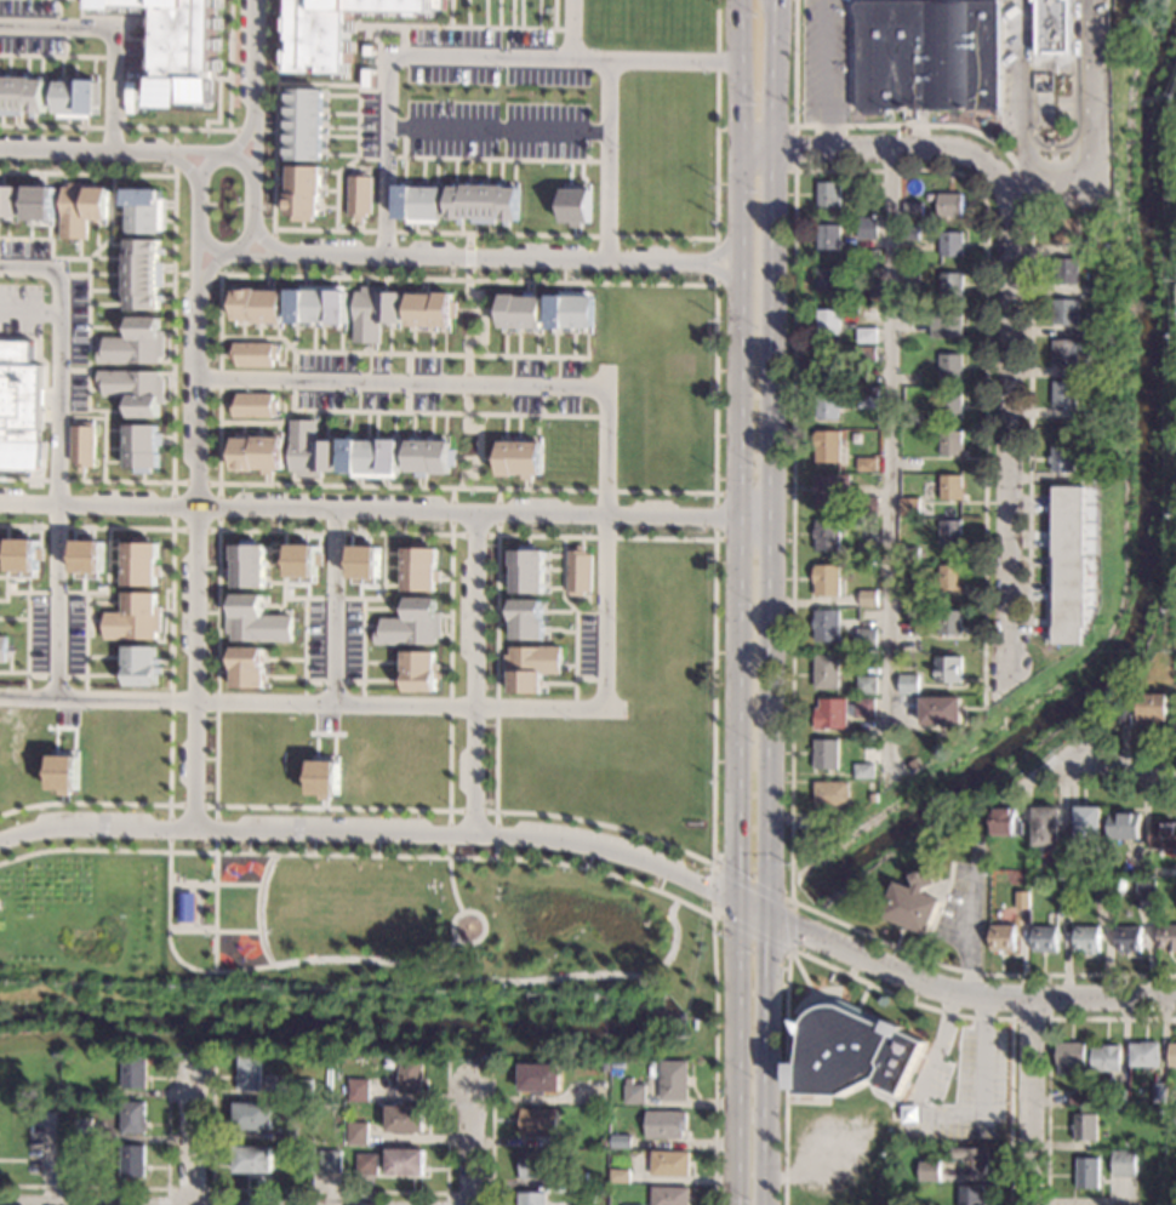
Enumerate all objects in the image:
road: (451, 13)
building: (1055, 23)
parking lot: (30, 27)
building: (333, 29)
road: (571, 29)
road: (113, 34)
road: (142, 41)
road: (376, 42)
building: (181, 48)
building: (925, 53)
road: (57, 55)
road: (252, 55)
road: (467, 57)
road: (824, 73)
road: (318, 84)
building: (22, 95)
parking lot: (495, 95)
building: (132, 97)
building: (78, 98)
building: (303, 122)
road: (777, 125)
road: (178, 129)
road: (497, 129)
road: (250, 130)
road: (244, 135)
road: (255, 141)
road: (860, 144)
road: (188, 150)
road: (80, 152)
road: (173, 152)
road: (219, 155)
road: (481, 159)
road: (609, 160)
road: (182, 164)
road: (1055, 183)
building: (869, 188)
building: (303, 192)
building: (829, 194)
building: (360, 196)
building: (8, 200)
building: (419, 201)
building: (484, 201)
building: (39, 202)
building: (576, 205)
building: (950, 205)
building: (82, 207)
building: (913, 209)
building: (145, 210)
road: (1032, 216)
building: (868, 228)
building: (1066, 230)
road: (497, 233)
building: (909, 233)
building: (829, 236)
road: (51, 240)
building: (952, 244)
road: (269, 246)
road: (723, 250)
building: (1100, 250)
road: (270, 252)
building: (874, 253)
road: (261, 256)
road: (467, 256)
road: (498, 257)
road: (196, 262)
road: (719, 262)
road: (205, 269)
road: (721, 269)
building: (870, 272)
building: (909, 272)
building: (1067, 272)
building: (143, 273)
road: (195, 273)
building: (828, 279)
road: (714, 285)
building: (952, 285)
building: (1095, 290)
building: (257, 305)
building: (320, 307)
building: (430, 308)
road: (30, 310)
building: (520, 310)
building: (375, 312)
building: (572, 312)
building: (1066, 312)
building: (912, 315)
building: (828, 321)
building: (947, 325)
road: (480, 326)
road: (171, 327)
road: (87, 330)
building: (1103, 332)
building: (866, 335)
parking lot: (19, 342)
building: (135, 342)
road: (399, 352)
building: (1064, 352)
building: (866, 353)
building: (253, 354)
building: (828, 364)
building: (952, 366)
building: (1092, 371)
road: (291, 379)
road: (793, 381)
road: (400, 383)
parking lot: (438, 383)
road: (466, 383)
building: (135, 389)
building: (1064, 393)
building: (867, 396)
building: (252, 404)
building: (19, 406)
building: (827, 406)
building: (950, 406)
road: (409, 412)
building: (1094, 412)
building: (910, 419)
road: (1007, 421)
road: (478, 441)
building: (950, 442)
building: (84, 444)
building: (827, 445)
building: (142, 446)
building: (312, 449)
building: (257, 453)
road: (58, 456)
building: (371, 456)
building: (429, 456)
building: (520, 458)
building: (1063, 458)
building: (867, 464)
road: (891, 464)
building: (919, 469)
building: (1091, 475)
building: (950, 487)
building: (829, 489)
building: (867, 506)
building: (910, 508)
road: (383, 512)
road: (714, 516)
building: (915, 520)
river: (1137, 525)
road: (217, 529)
building: (950, 532)
road: (473, 533)
building: (827, 535)
road: (606, 538)
building: (868, 552)
building: (909, 554)
building: (87, 555)
building: (23, 556)
road: (194, 558)
building: (303, 560)
building: (365, 561)
building: (141, 562)
building: (247, 564)
building: (1068, 564)
building: (421, 569)
road: (712, 569)
building: (529, 570)
building: (581, 570)
building: (949, 577)
building: (827, 579)
road: (56, 592)
building: (868, 598)
road: (332, 599)
building: (912, 599)
road: (736, 602)
road: (766, 602)
road: (335, 607)
building: (133, 618)
building: (527, 618)
building: (256, 621)
road: (575, 621)
building: (949, 622)
building: (412, 624)
building: (826, 626)
parking lot: (56, 634)
parking lot: (333, 639)
building: (867, 639)
building: (908, 641)
road: (25, 643)
road: (85, 645)
building: (2, 649)
road: (303, 651)
road: (364, 652)
building: (875, 657)
building: (141, 664)
road: (170, 666)
building: (532, 666)
building: (247, 667)
building: (421, 670)
building: (948, 670)
building: (827, 672)
road: (473, 673)
road: (55, 676)
road: (590, 679)
road: (333, 681)
building: (908, 684)
building: (866, 685)
road: (310, 704)
building: (864, 707)
building: (850, 709)
building: (941, 710)
building: (1153, 712)
building: (830, 714)
building: (1124, 714)
building: (826, 753)
road: (1115, 764)
building: (914, 765)
building: (863, 771)
building: (64, 773)
building: (324, 778)
road: (1102, 782)
building: (830, 793)
building: (873, 798)
road: (193, 805)
road: (450, 809)
road: (472, 810)
building: (1005, 822)
building: (1045, 826)
building: (1089, 826)
building: (1124, 826)
road: (491, 834)
building: (1164, 835)
road: (503, 858)
traffic signals: (732, 866)
building: (1075, 870)
building: (1152, 872)
road: (215, 884)
building: (1120, 884)
road: (451, 885)
traffic signals: (704, 889)
building: (1146, 889)
building: (1104, 893)
building: (1022, 900)
building: (1064, 904)
building: (188, 907)
building: (909, 907)
road: (215, 912)
park: (344, 918)
road: (455, 920)
road: (974, 925)
road: (212, 931)
traffic signals: (797, 931)
building: (1003, 937)
building: (1044, 937)
building: (1168, 937)
building: (1086, 938)
building: (1129, 938)
traffic signals: (767, 946)
river: (740, 949)
road: (788, 949)
road: (443, 953)
road: (478, 961)
road: (228, 971)
road: (504, 982)
road: (864, 982)
road: (1064, 1001)
road: (1047, 1015)
river: (339, 1022)
road: (1046, 1046)
building: (852, 1051)
building: (1144, 1053)
building: (1172, 1055)
building: (1069, 1057)
building: (1106, 1058)
building: (133, 1073)
building: (250, 1074)
building: (411, 1076)
building: (540, 1078)
building: (673, 1080)
building: (302, 1087)
building: (359, 1090)
building: (634, 1092)
building: (1160, 1092)
building: (1078, 1100)
building: (1119, 1101)
road: (1029, 1103)
building: (1100, 1107)
building: (253, 1117)
building: (133, 1118)
building: (406, 1119)
building: (538, 1123)
road: (943, 1123)
building: (666, 1124)
building: (1085, 1126)
building: (81, 1129)
building: (358, 1133)
building: (621, 1142)
road: (193, 1143)
road: (470, 1143)
building: (604, 1143)
building: (1126, 1143)
building: (73, 1152)
building: (972, 1159)
building: (132, 1160)
building: (253, 1160)
road: (492, 1160)
building: (330, 1161)
building: (406, 1161)
building: (1124, 1163)
building: (367, 1164)
building: (538, 1164)
building: (669, 1164)
building: (75, 1166)
building: (929, 1171)
building: (1086, 1172)
building: (620, 1176)
building: (576, 1181)
road: (147, 1187)
road: (189, 1188)
road: (327, 1190)
road: (463, 1193)
building: (970, 1194)
building: (669, 1195)
building: (531, 1199)
building: (592, 1199)

